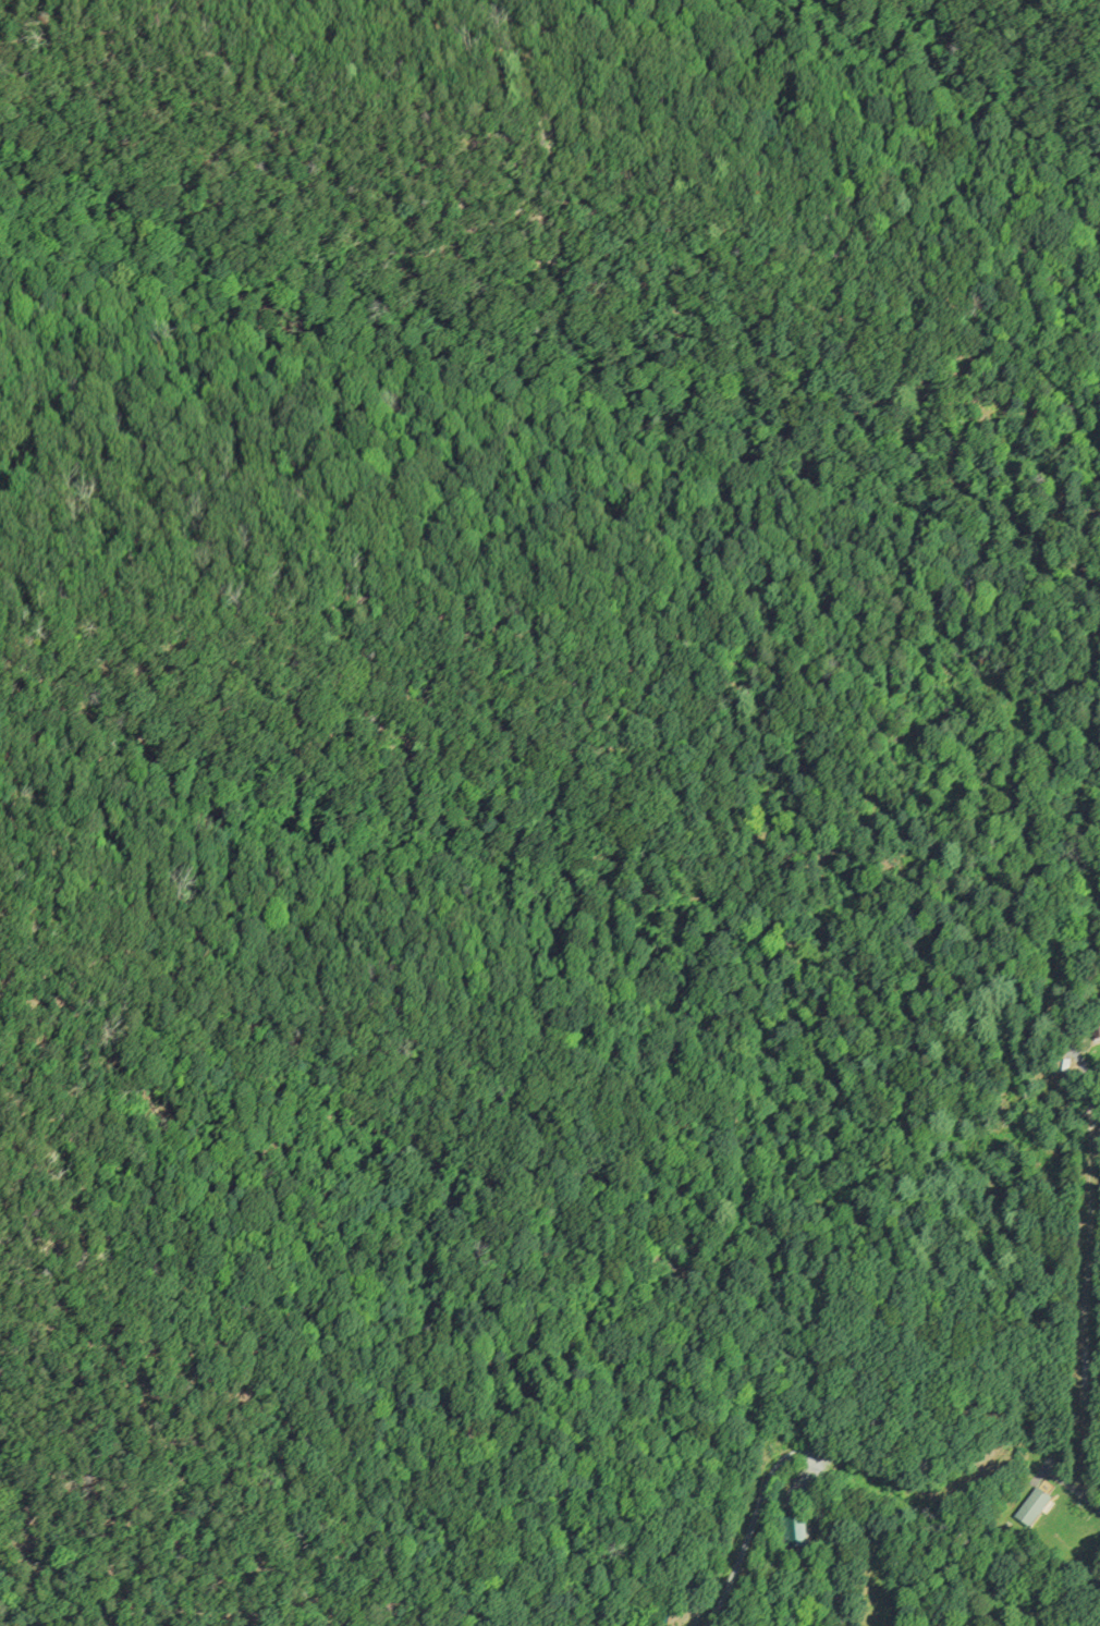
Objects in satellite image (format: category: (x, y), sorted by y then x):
building: (1036, 1513)

